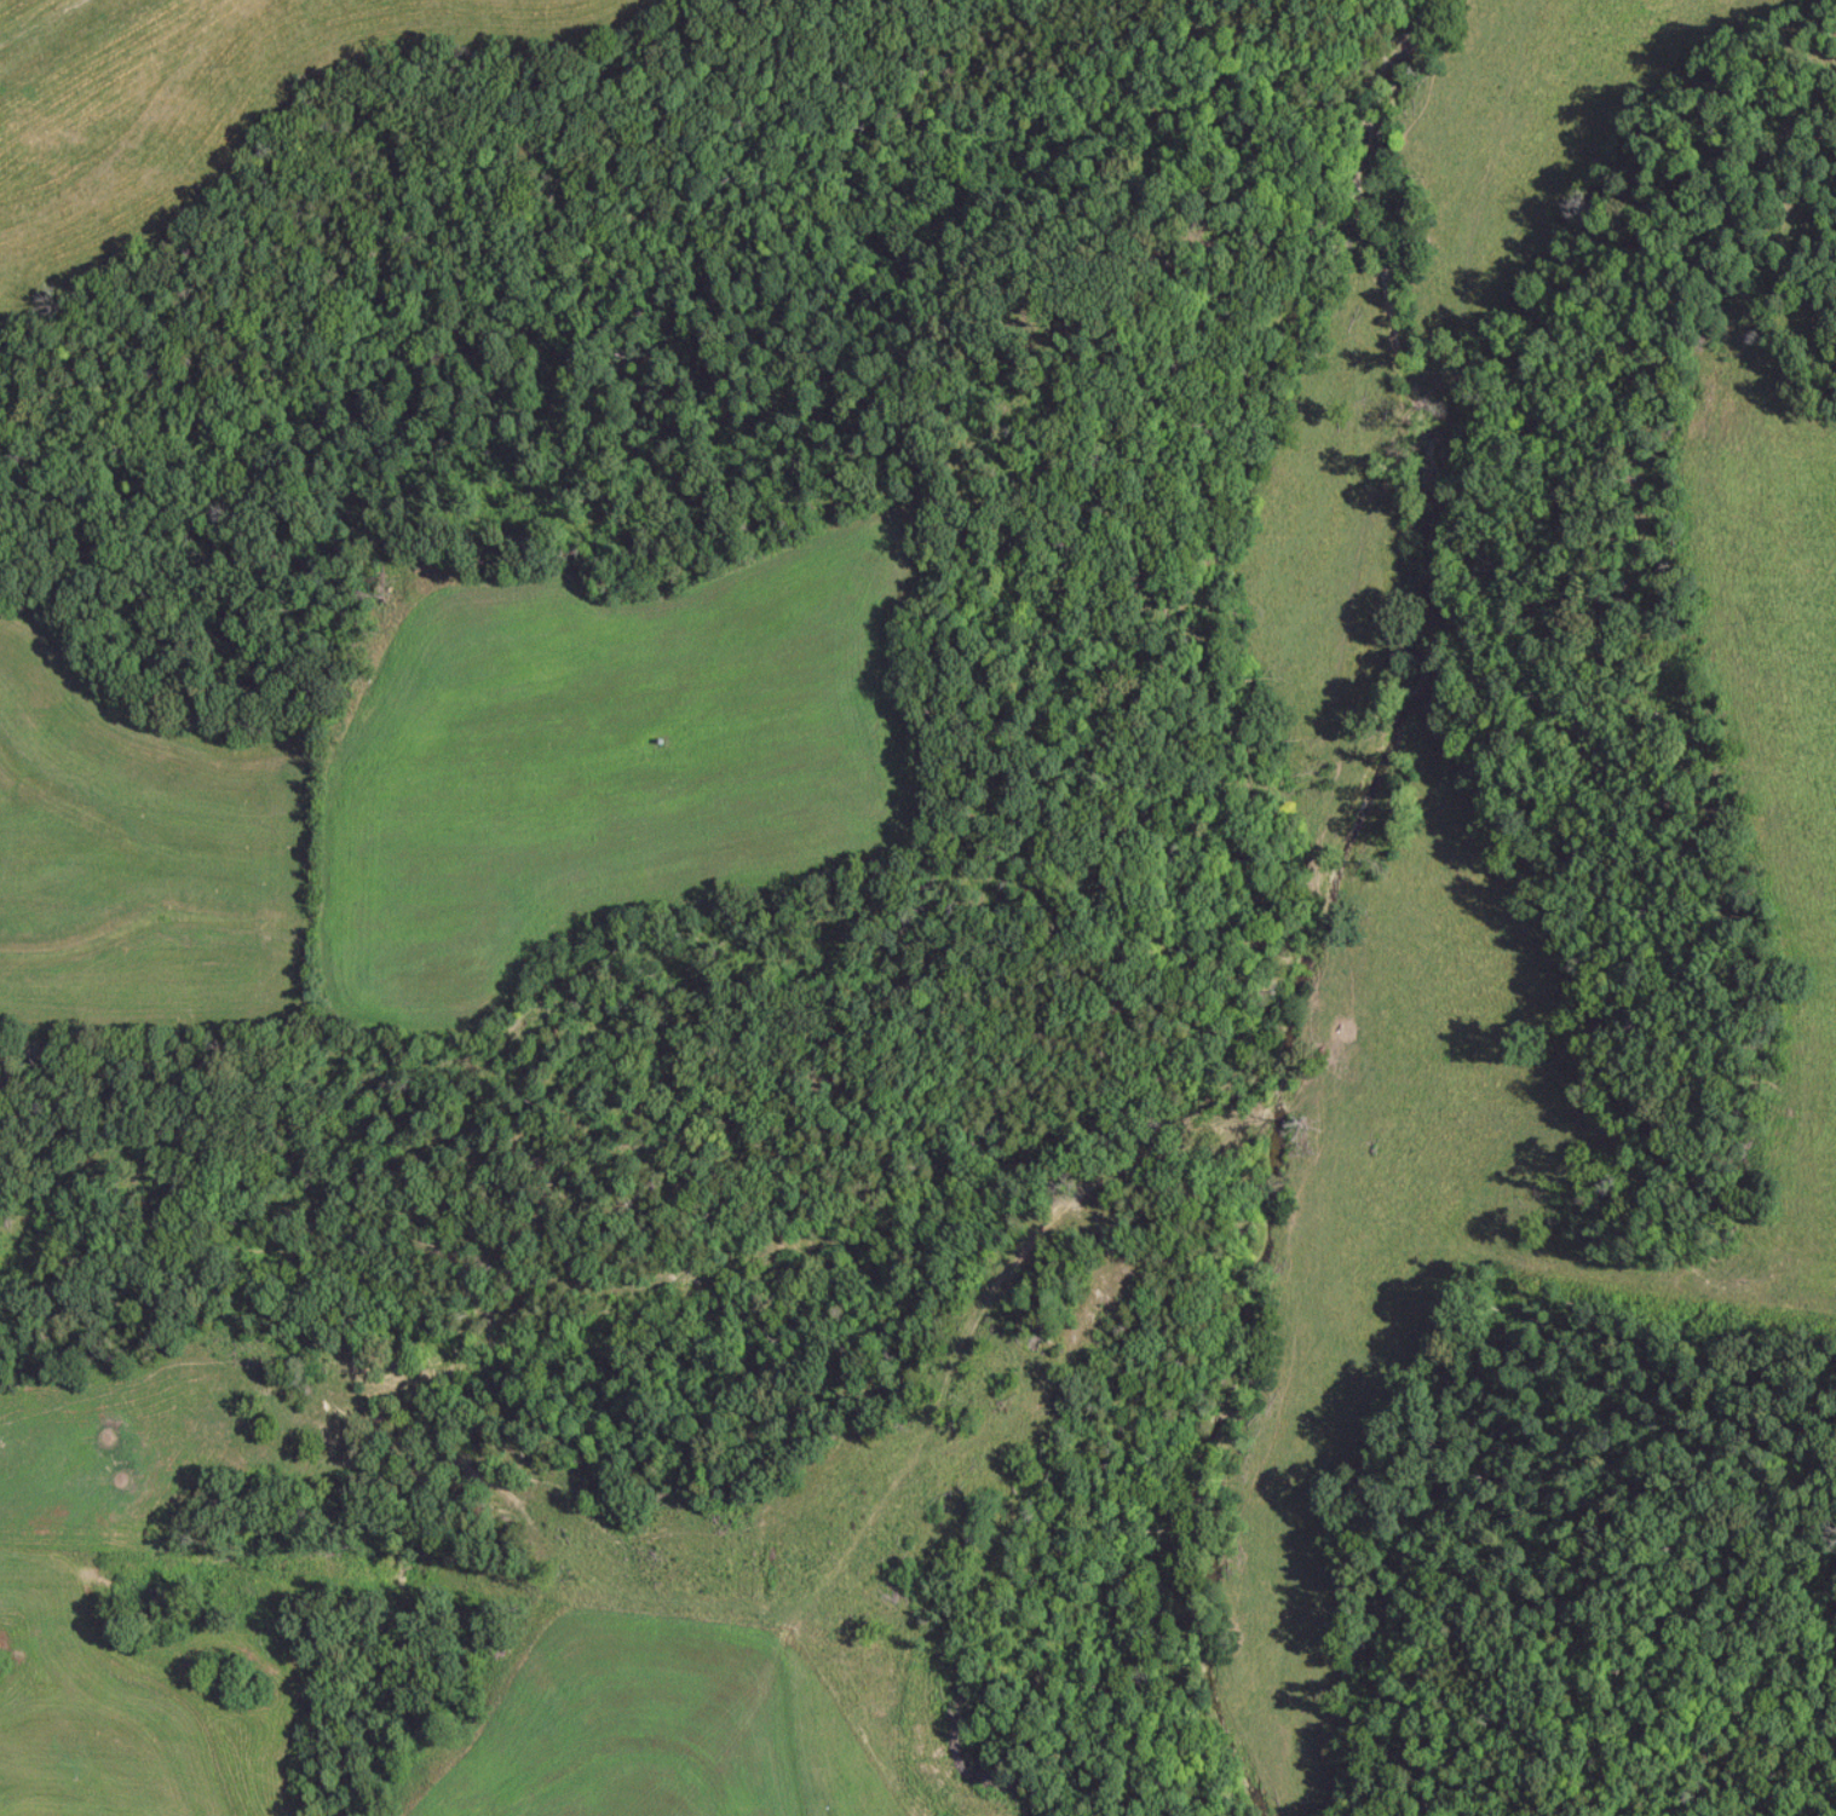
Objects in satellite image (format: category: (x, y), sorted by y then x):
road: (852, 1598)

